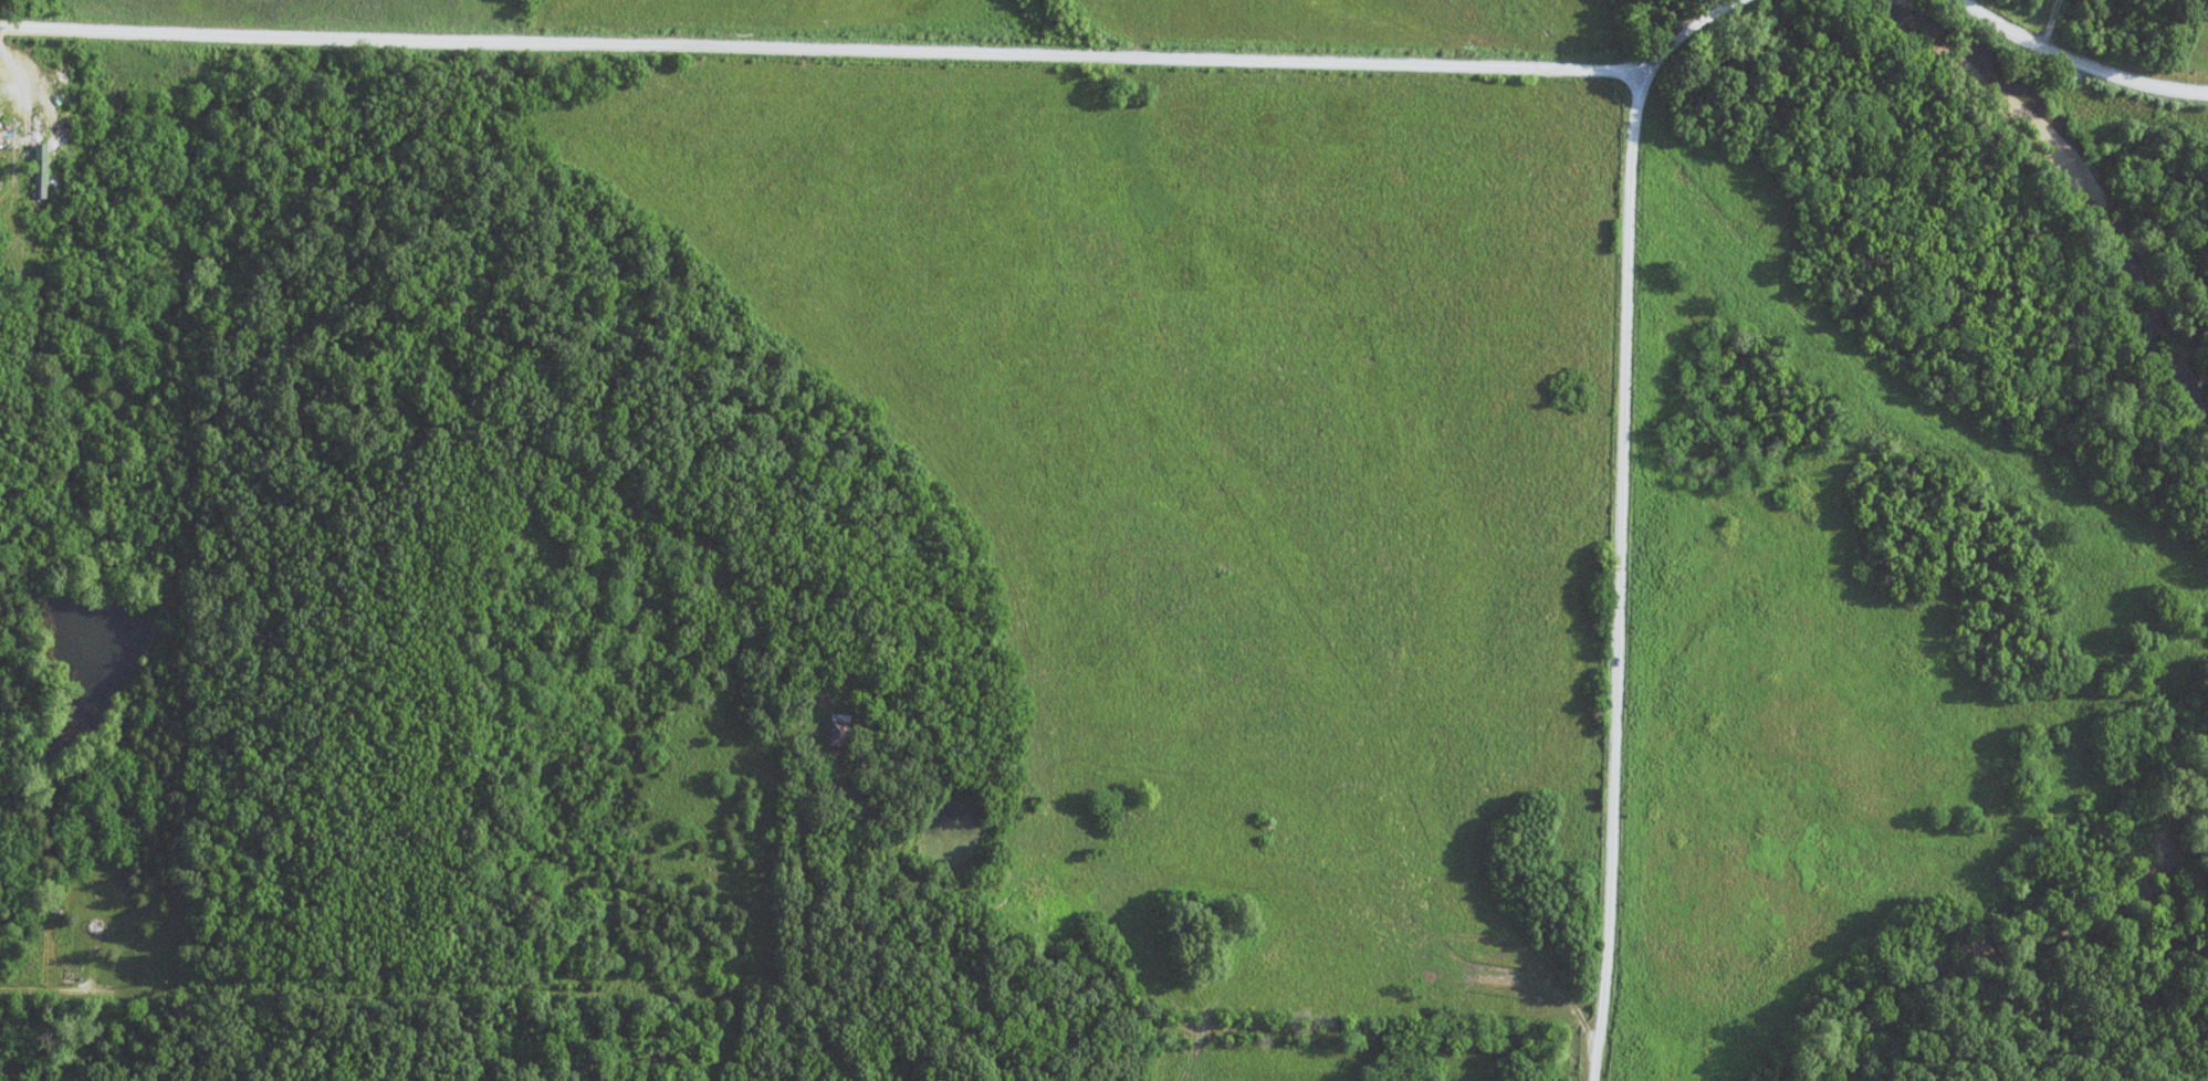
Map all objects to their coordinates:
road: (889, 53)
road: (2079, 64)
road: (1623, 581)
building: (843, 731)
road: (40, 988)
road: (1257, 1030)

